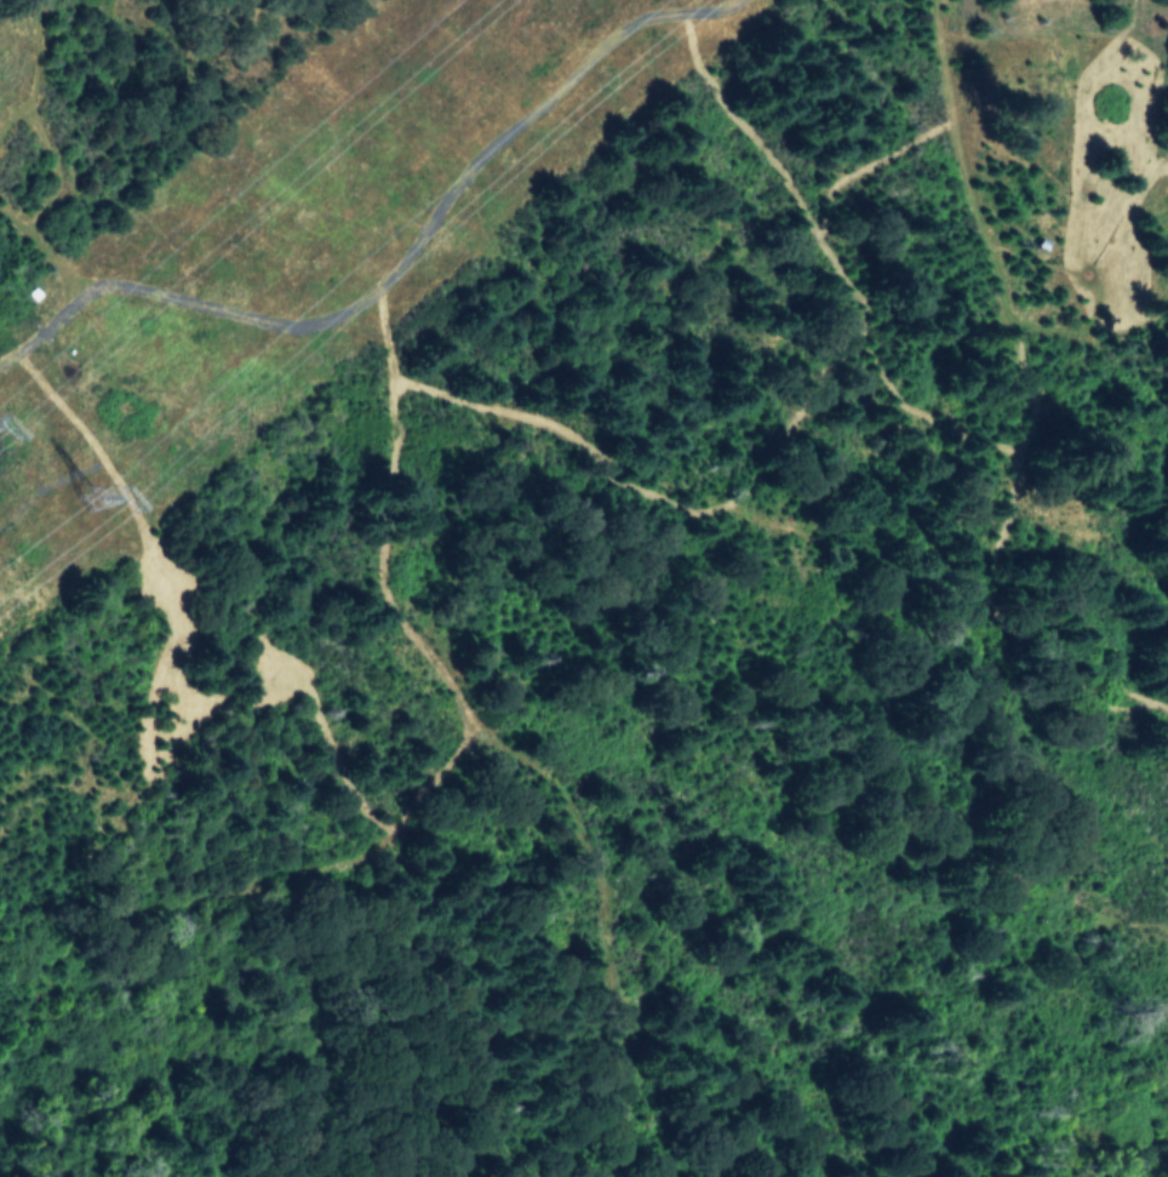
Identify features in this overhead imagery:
power tower: (99, 493)
road: (383, 532)

